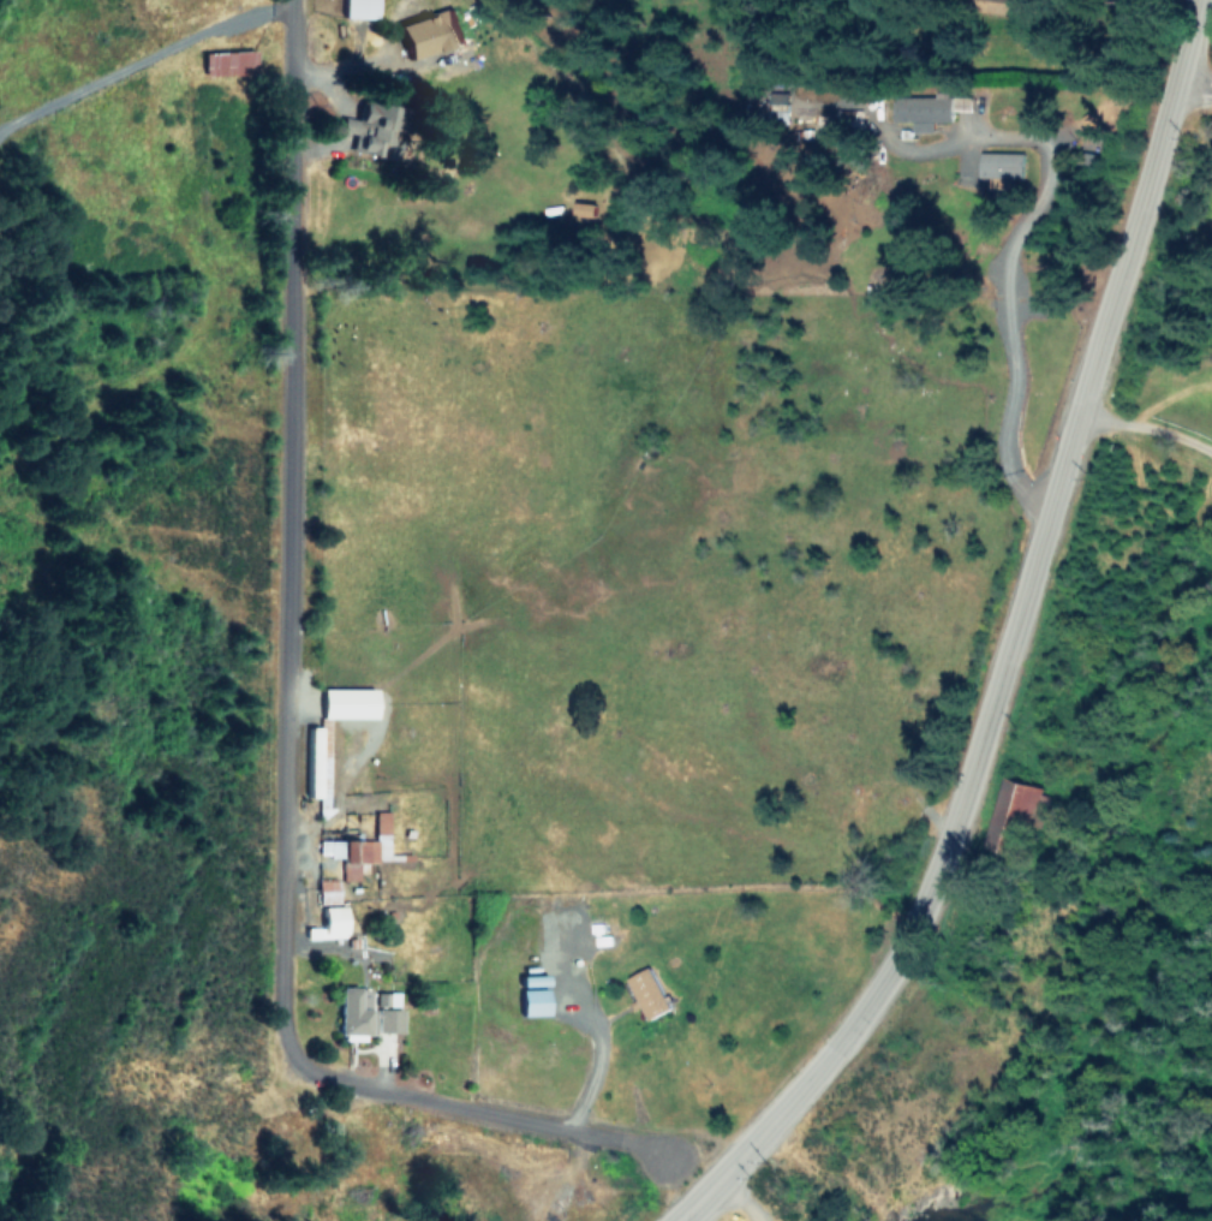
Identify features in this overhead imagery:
building: (362, 8)
building: (432, 34)
road: (1192, 102)
building: (920, 111)
building: (382, 130)
building: (1003, 167)
road: (185, 243)
road: (998, 284)
road: (1148, 430)
road: (1014, 648)
building: (350, 702)
road: (293, 727)
building: (314, 761)
building: (1005, 811)
building: (360, 847)
building: (329, 891)
crop: (488, 909)
building: (334, 921)
building: (649, 993)
building: (536, 1001)
building: (371, 1012)

